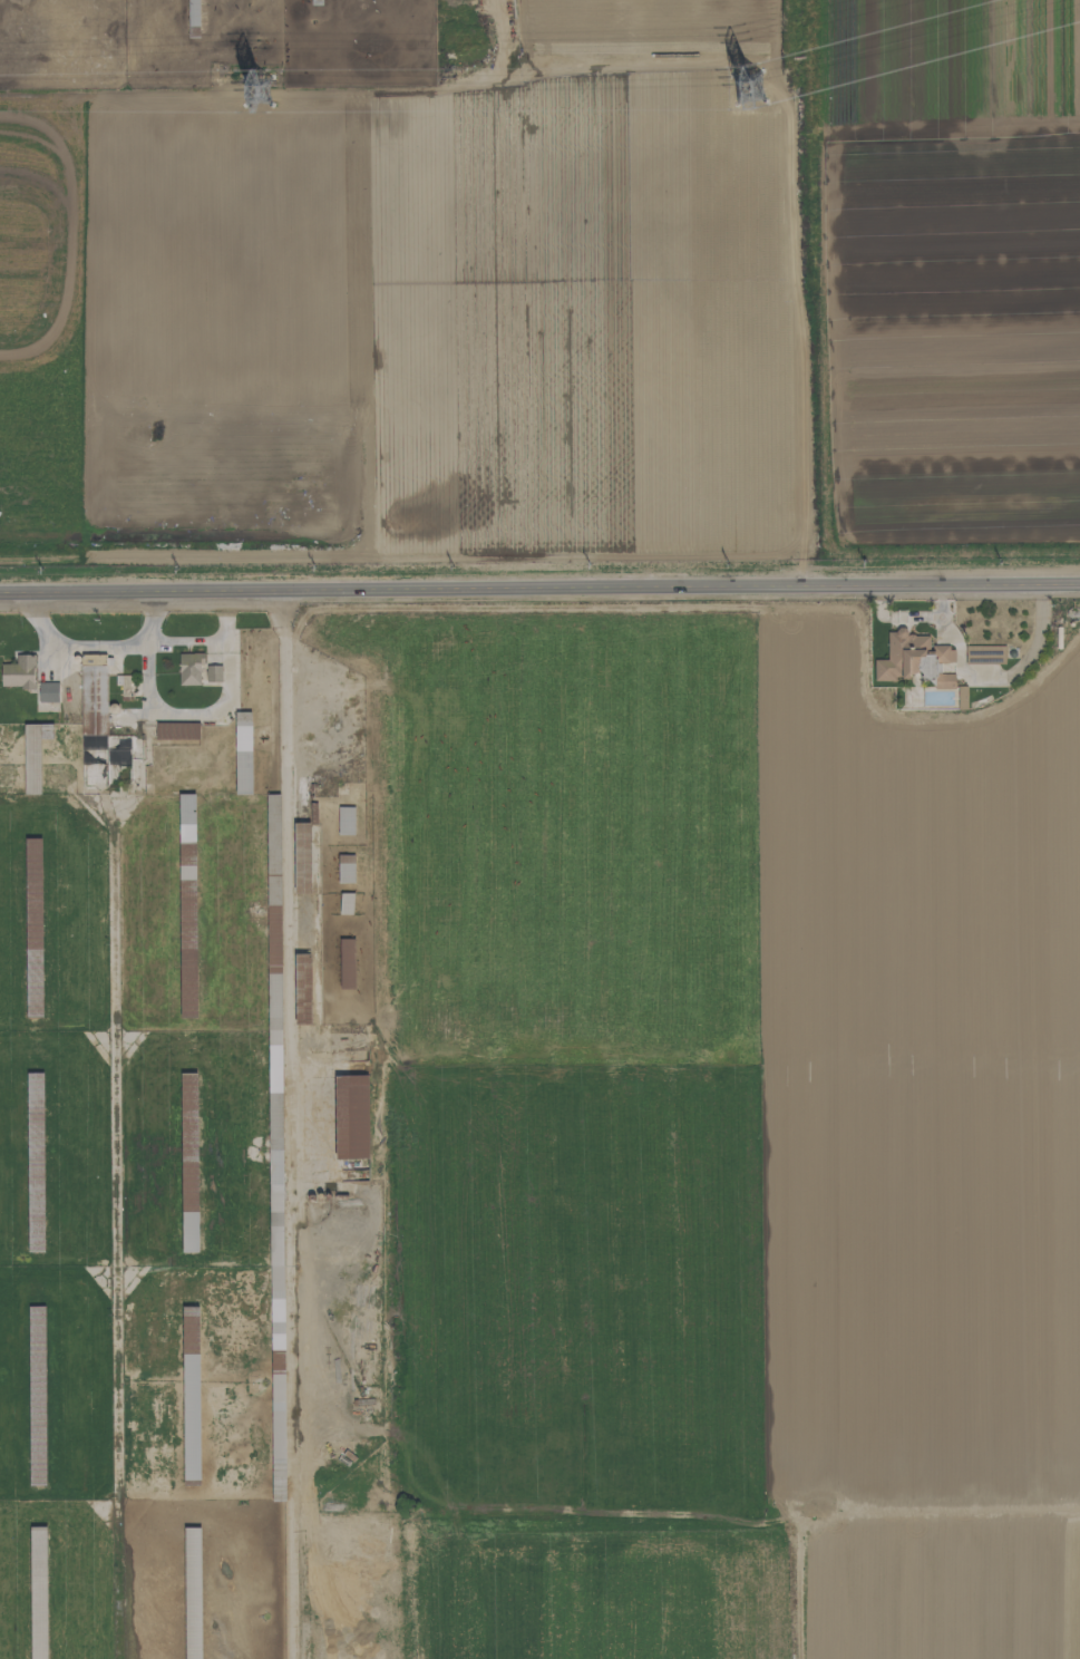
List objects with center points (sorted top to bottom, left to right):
building: (193, 12)
power tower: (259, 91)
power tower: (748, 95)
road: (539, 590)
road: (211, 640)
road: (100, 646)
building: (984, 654)
building: (913, 659)
building: (189, 668)
building: (18, 672)
building: (213, 673)
building: (47, 691)
building: (961, 697)
road: (194, 714)
building: (98, 721)
building: (176, 730)
building: (242, 753)
building: (33, 754)
building: (346, 819)
building: (301, 857)
building: (346, 869)
road: (285, 875)
building: (346, 903)
building: (187, 904)
building: (33, 919)
building: (347, 963)
building: (302, 988)
building: (351, 1116)
building: (35, 1160)
building: (188, 1162)
building: (191, 1393)
crop: (741, 1585)
building: (38, 1592)
building: (192, 1592)

